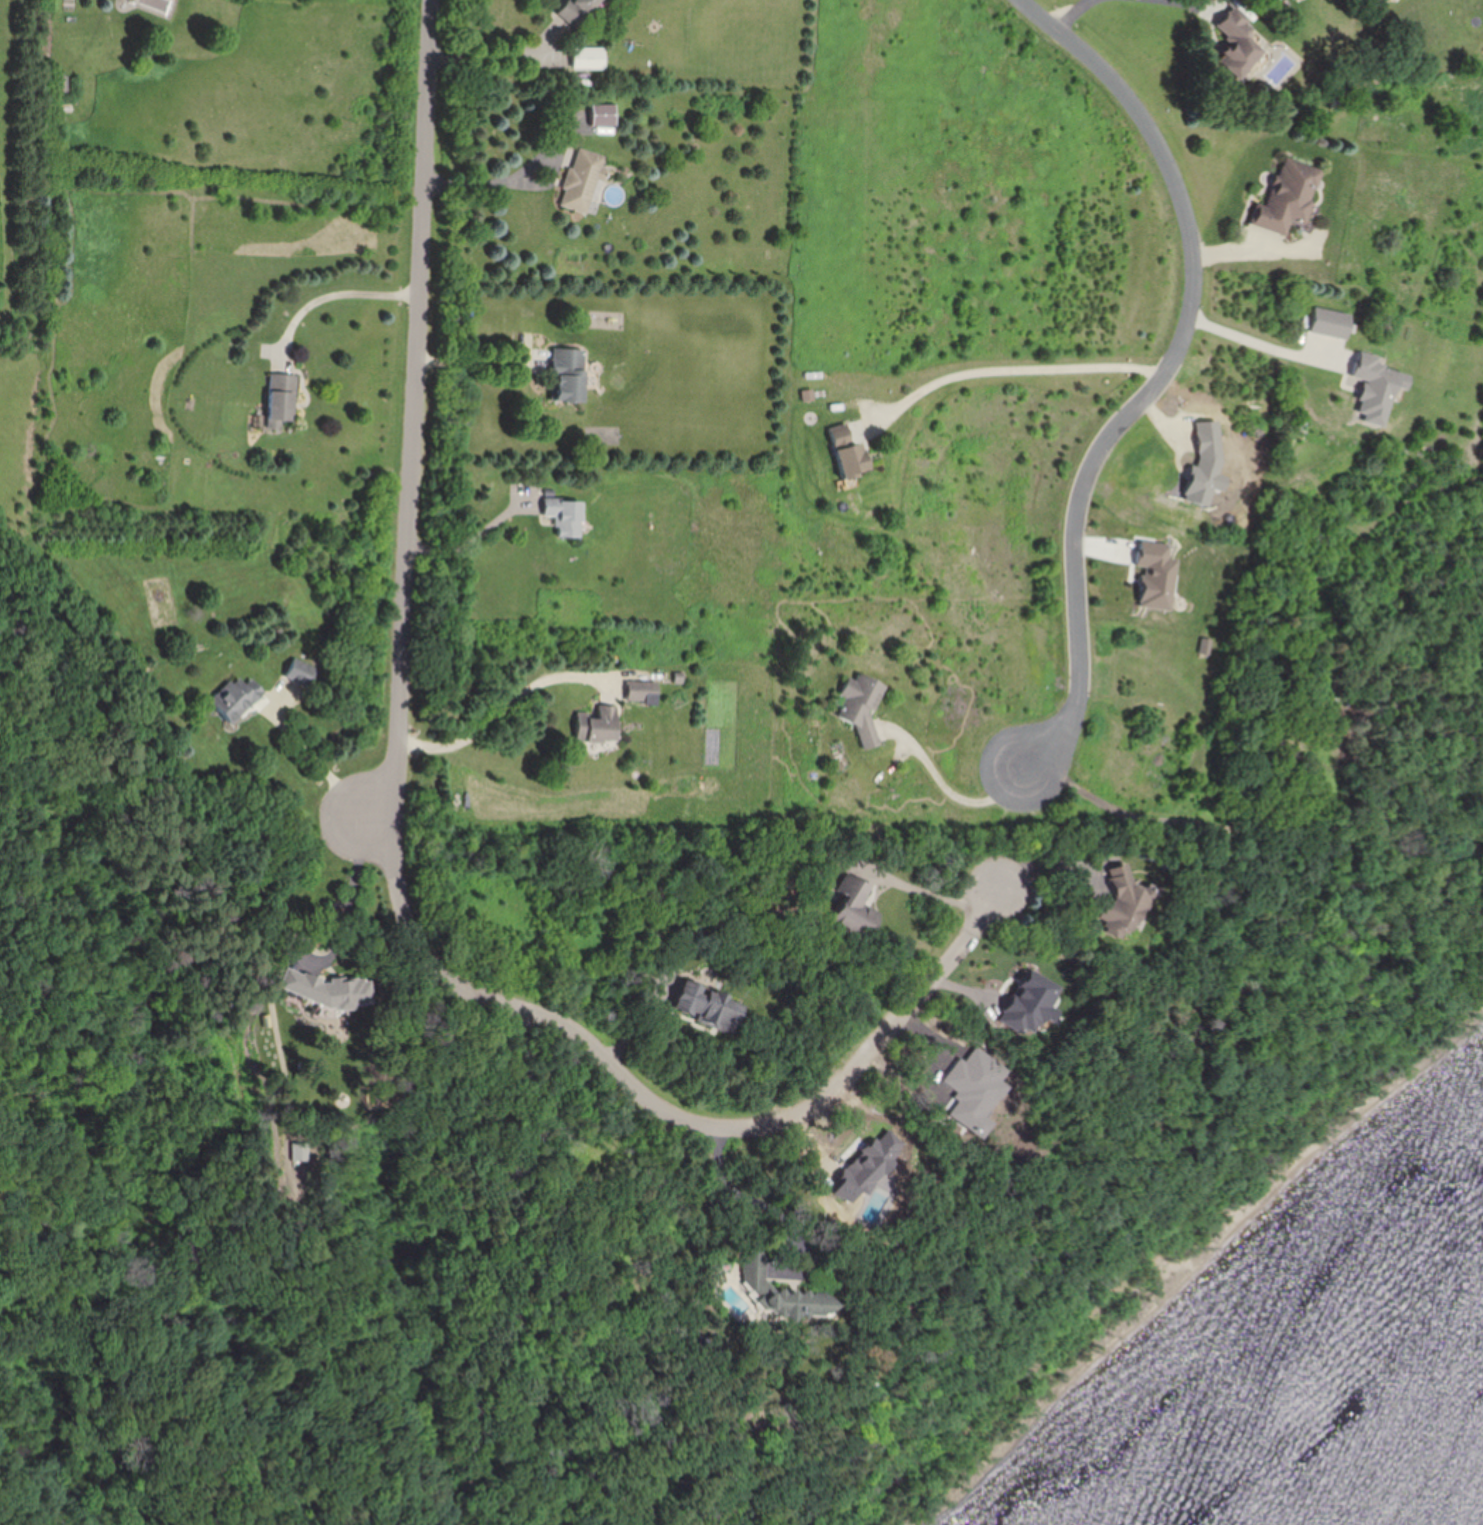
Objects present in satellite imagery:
road: (1191, 1)
building: (576, 11)
road: (1073, 14)
building: (1235, 40)
road: (500, 55)
building: (586, 58)
building: (601, 115)
building: (582, 180)
road: (504, 186)
building: (1286, 201)
road: (335, 297)
building: (1326, 323)
road: (1263, 345)
road: (482, 360)
road: (1019, 369)
road: (1160, 369)
building: (568, 375)
building: (1370, 387)
building: (280, 399)
road: (415, 416)
building: (847, 452)
building: (565, 515)
road: (472, 542)
building: (300, 672)
building: (642, 693)
building: (235, 698)
building: (861, 703)
road: (510, 708)
building: (597, 725)
road: (317, 758)
road: (955, 795)
road: (1047, 863)
road: (926, 891)
road: (352, 900)
building: (1117, 902)
building: (854, 909)
building: (325, 991)
building: (707, 1006)
road: (651, 1020)
road: (666, 1104)
road: (781, 1216)
building: (754, 1274)

